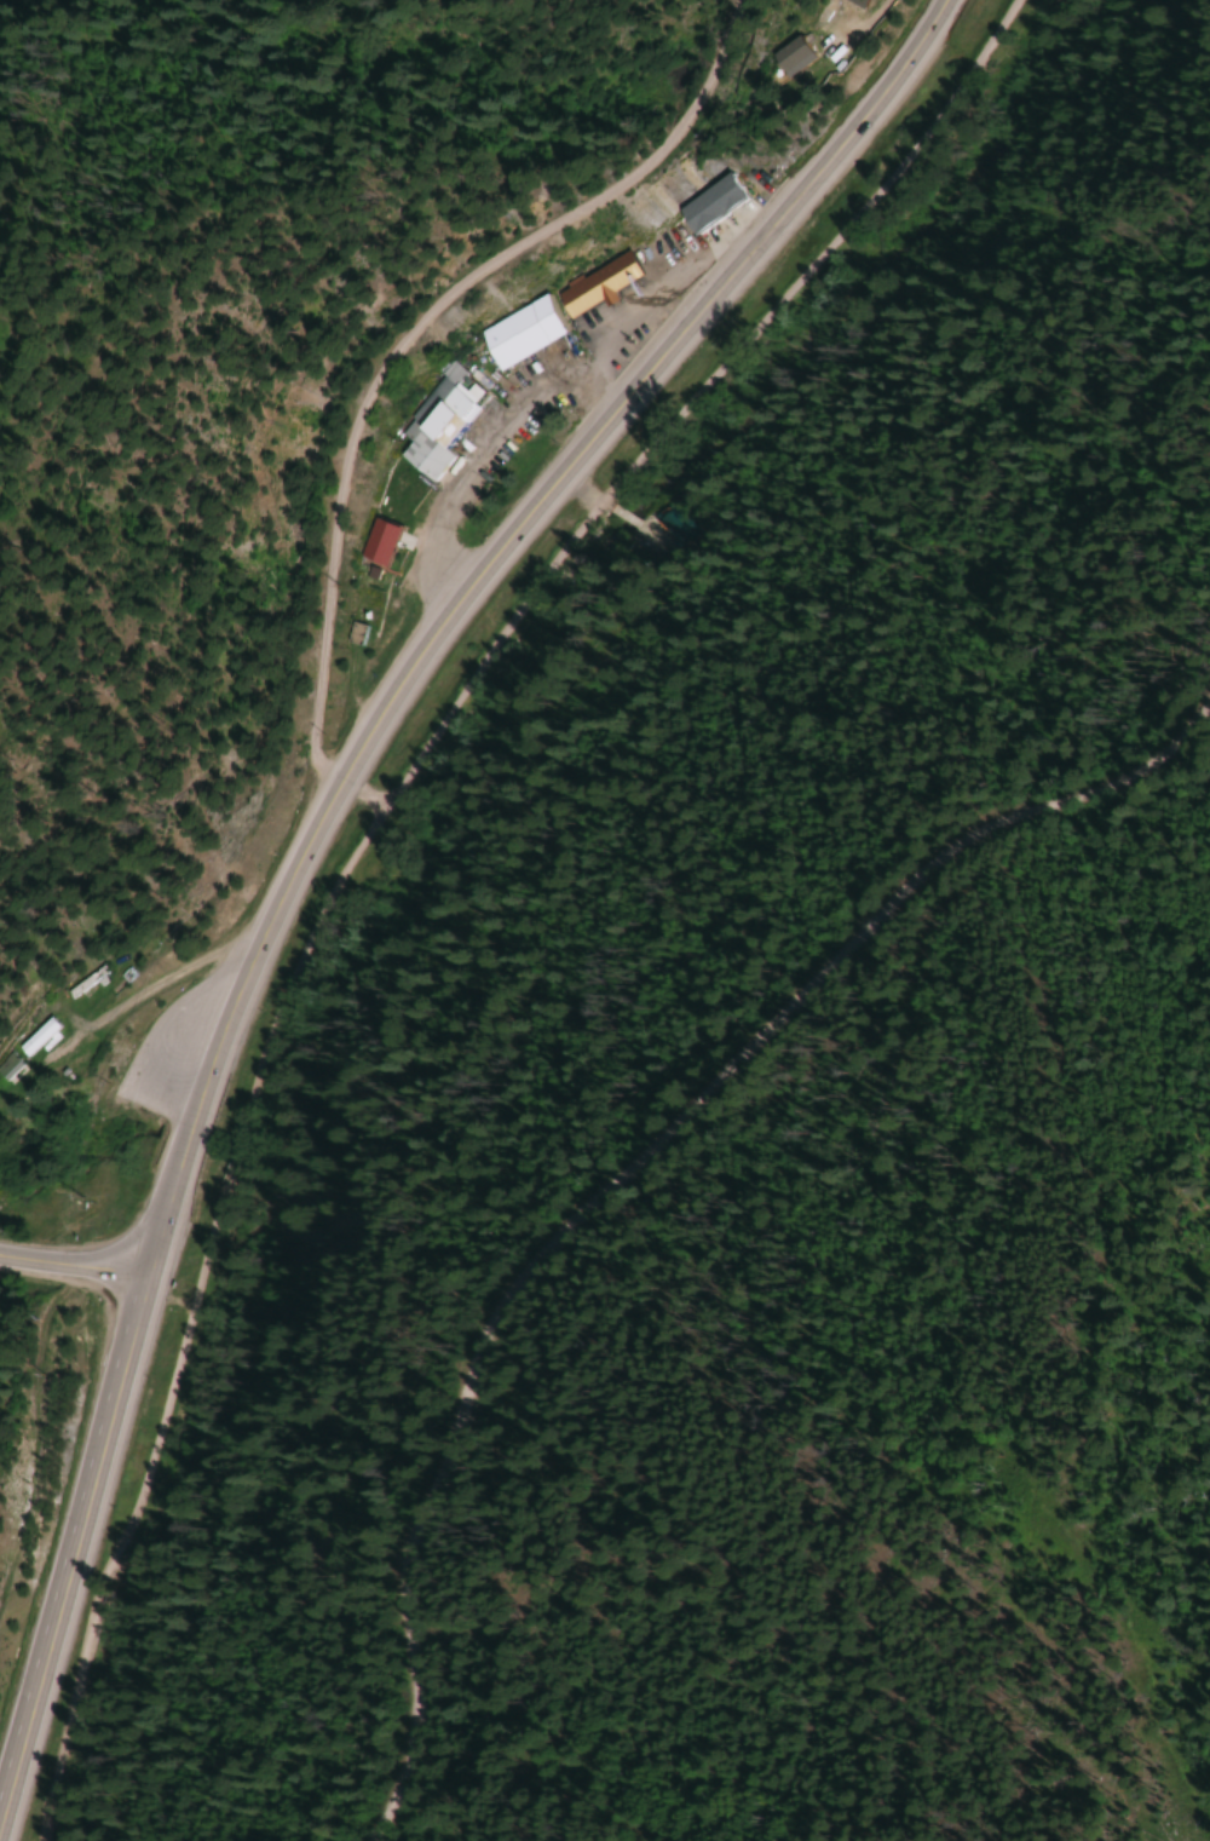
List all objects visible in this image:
building: (785, 57)
building: (594, 284)
building: (515, 333)
road: (384, 355)
building: (436, 421)
building: (675, 525)
building: (374, 542)
road: (476, 671)
road: (325, 845)
building: (82, 984)
building: (31, 1039)
building: (5, 1065)
road: (632, 1168)
road: (76, 1267)
road: (83, 1647)

